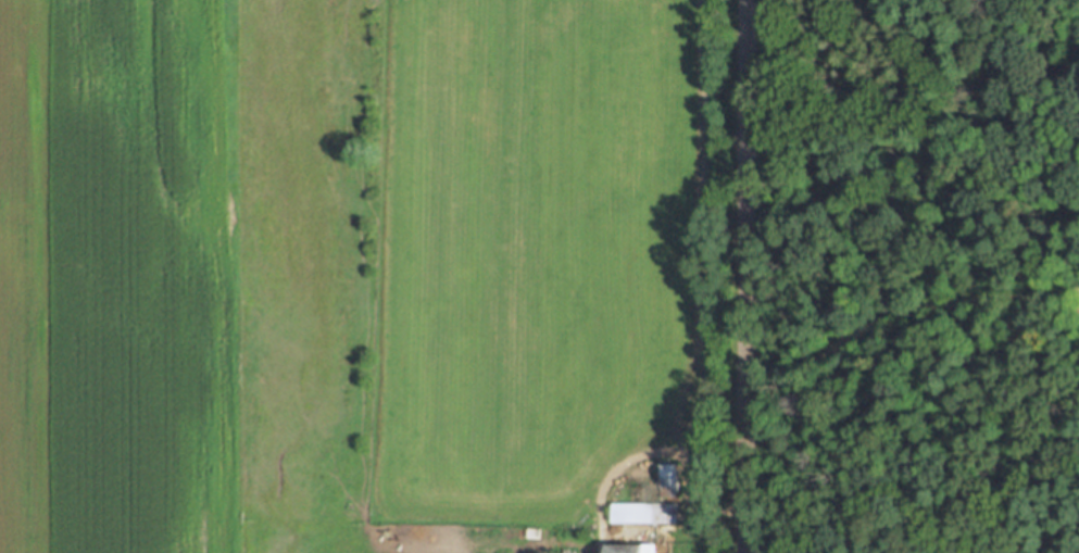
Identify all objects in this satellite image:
park: (923, 275)
road: (742, 276)
road: (901, 310)
building: (669, 481)
building: (644, 513)
building: (632, 549)

